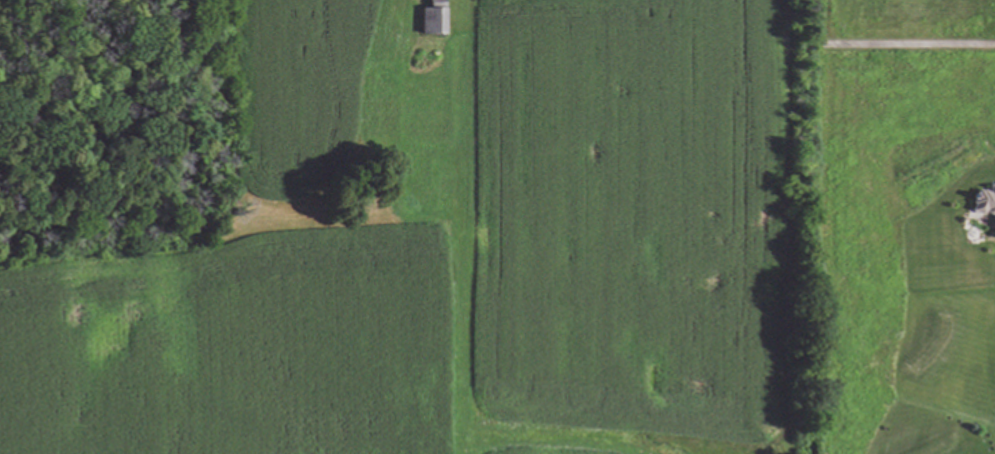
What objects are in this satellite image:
building: (433, 18)
road: (905, 43)

